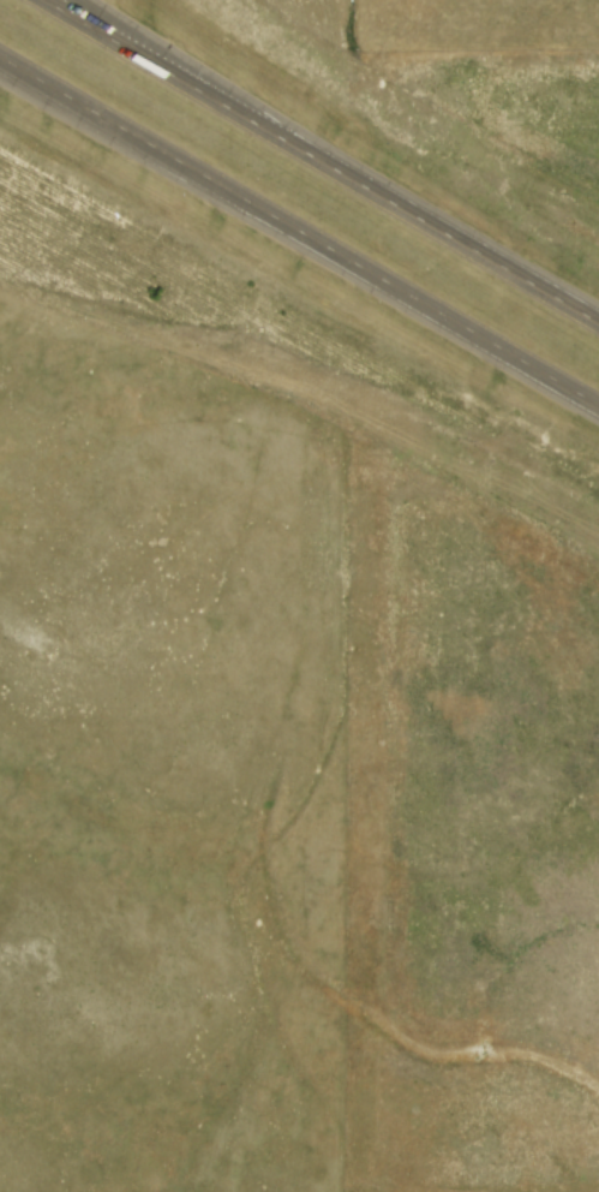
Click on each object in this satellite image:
road: (113, 31)
road: (325, 159)
road: (299, 230)

